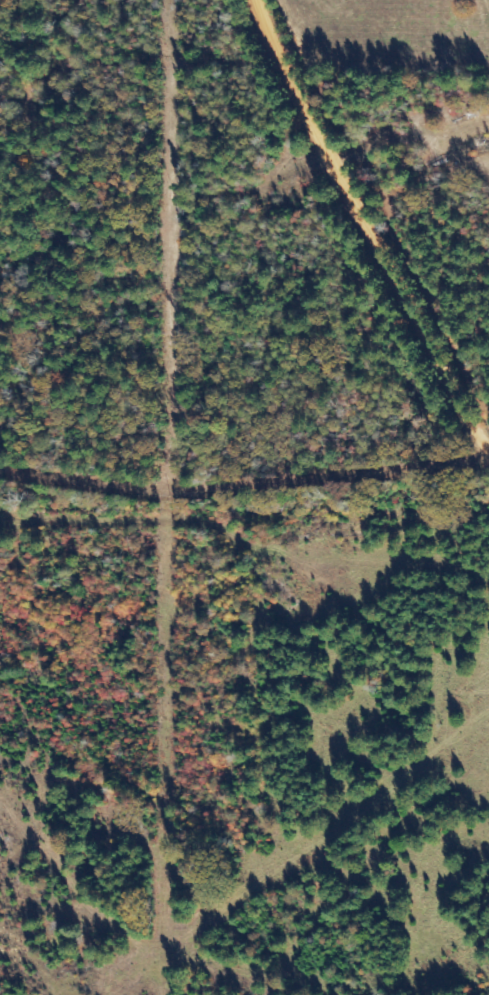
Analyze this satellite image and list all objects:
road: (372, 220)

